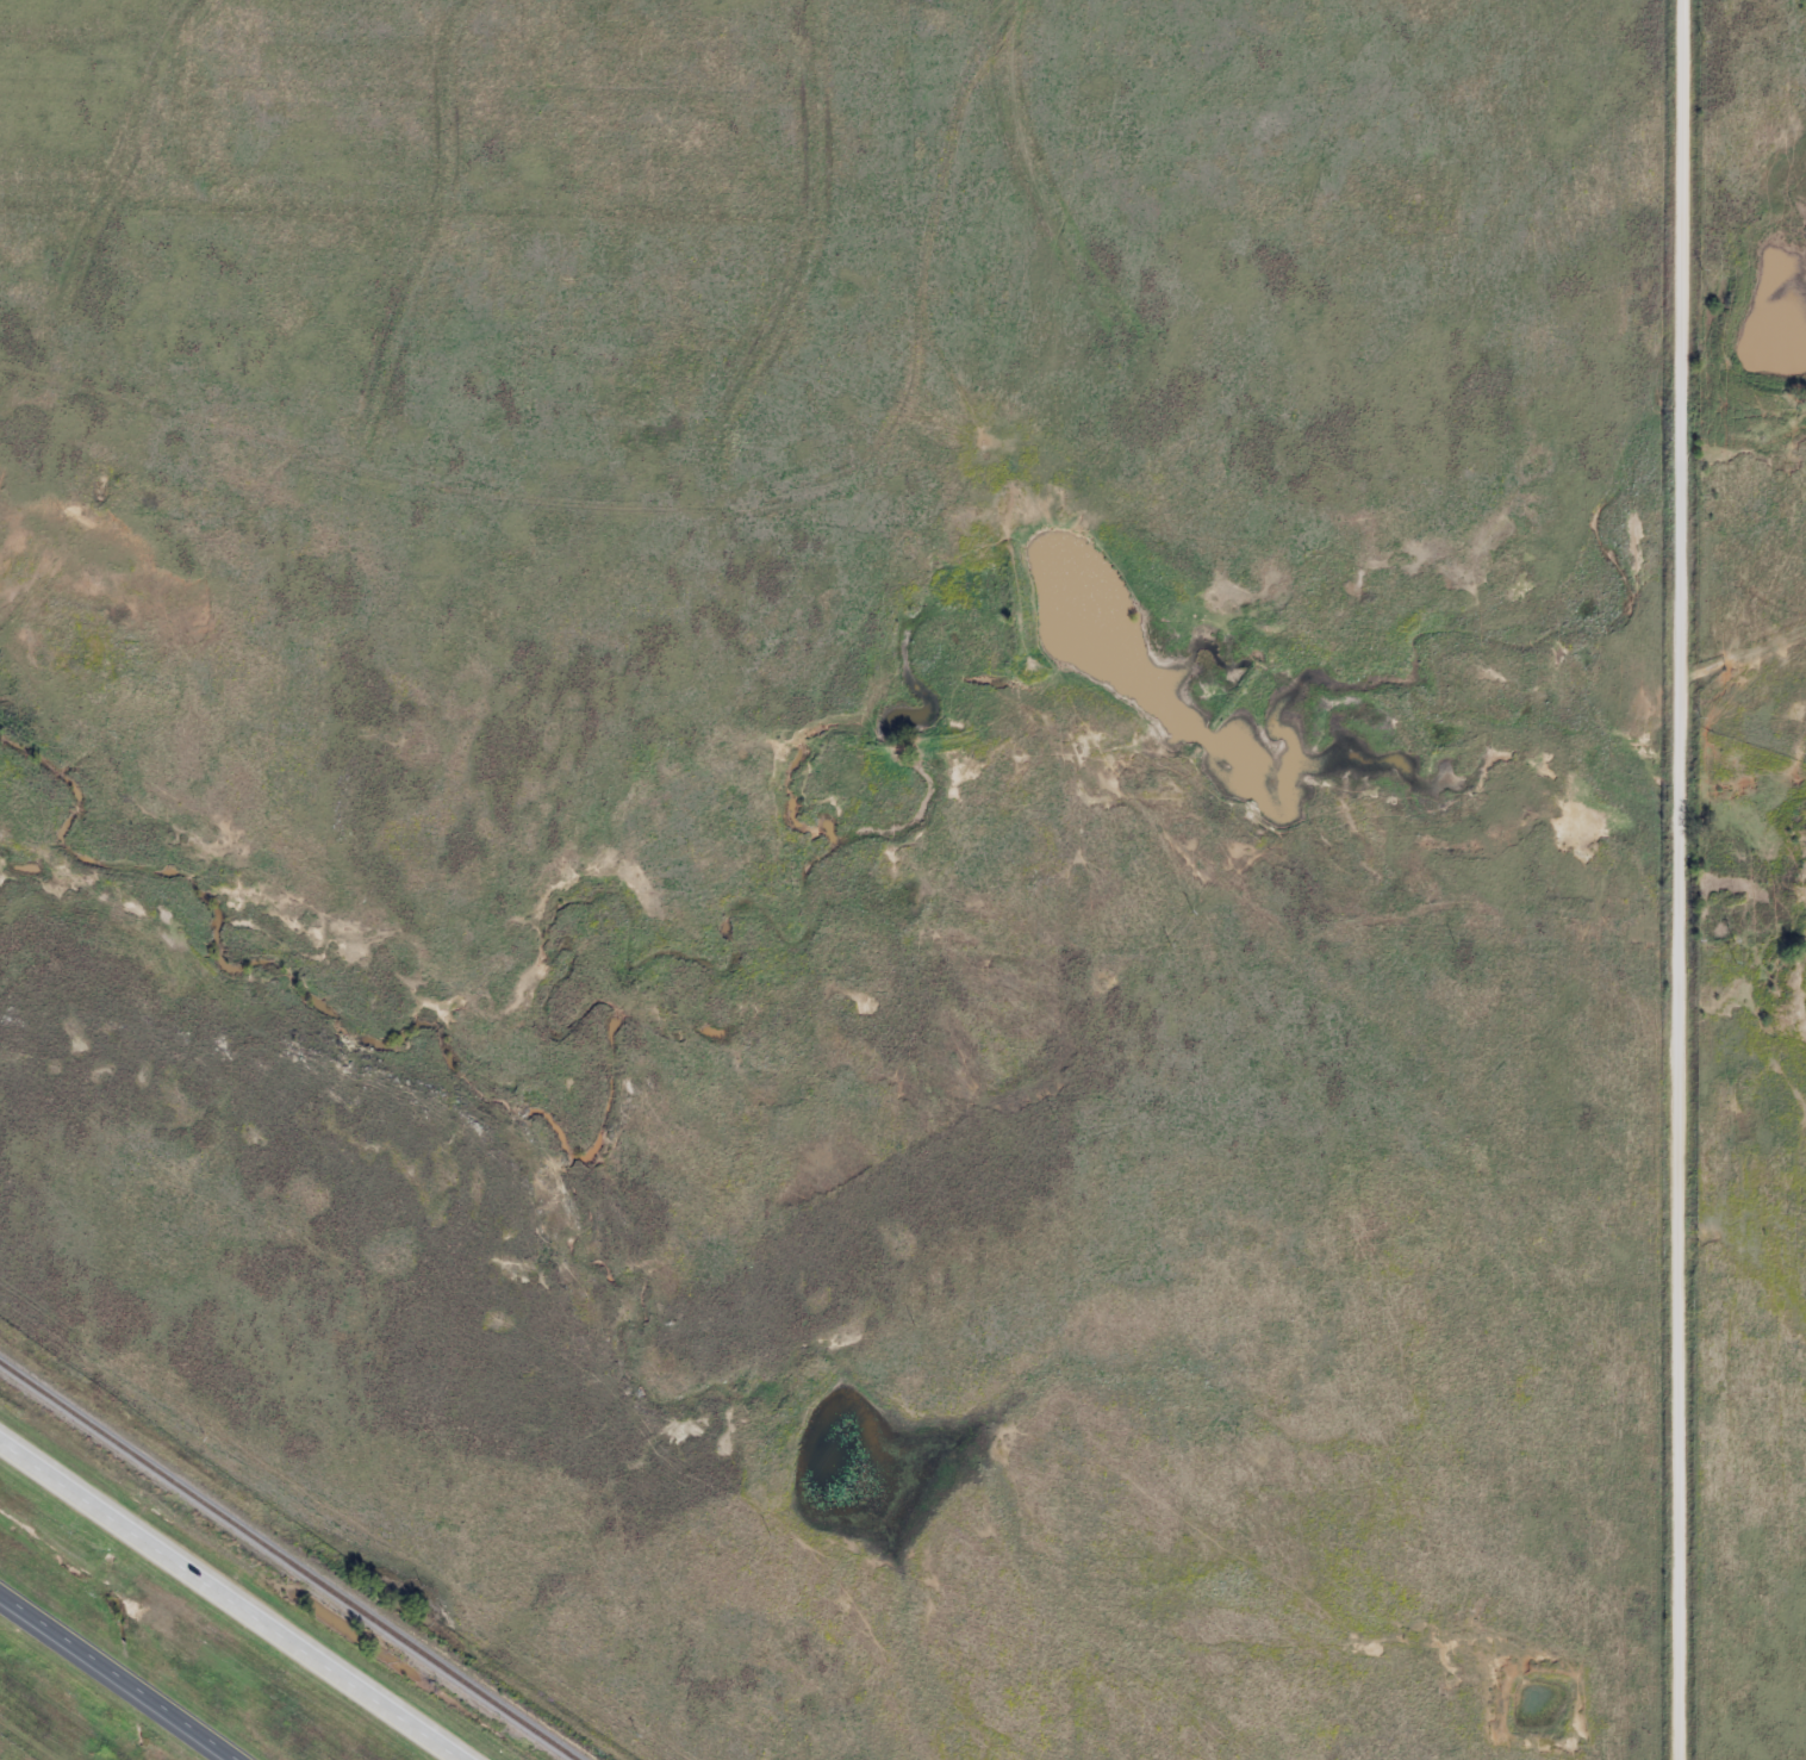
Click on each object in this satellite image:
road: (1682, 879)
railway: (287, 1562)
road: (236, 1596)
road: (122, 1672)

